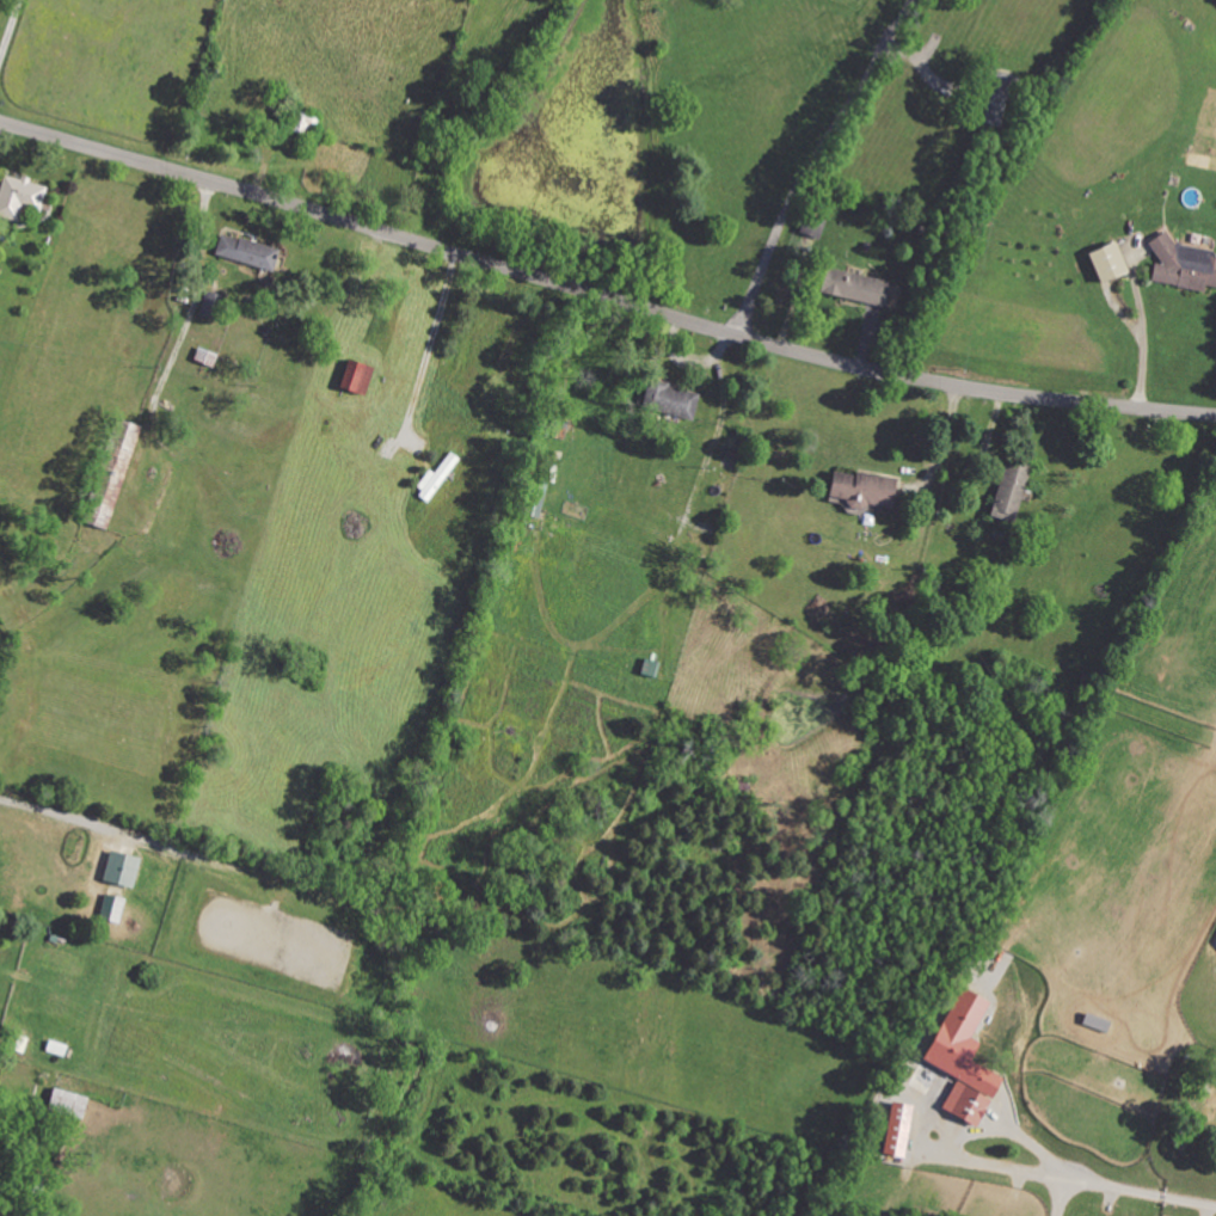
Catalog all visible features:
road: (10, 29)
building: (993, 104)
road: (809, 158)
building: (18, 199)
building: (242, 253)
building: (1104, 263)
building: (1181, 265)
building: (852, 288)
road: (196, 295)
road: (602, 295)
building: (208, 306)
road: (1142, 342)
road: (430, 344)
building: (352, 379)
building: (669, 400)
building: (113, 475)
building: (858, 490)
building: (1008, 491)
building: (121, 870)
building: (111, 909)
building: (962, 1060)
building: (67, 1104)
building: (896, 1130)
road: (1129, 1191)

